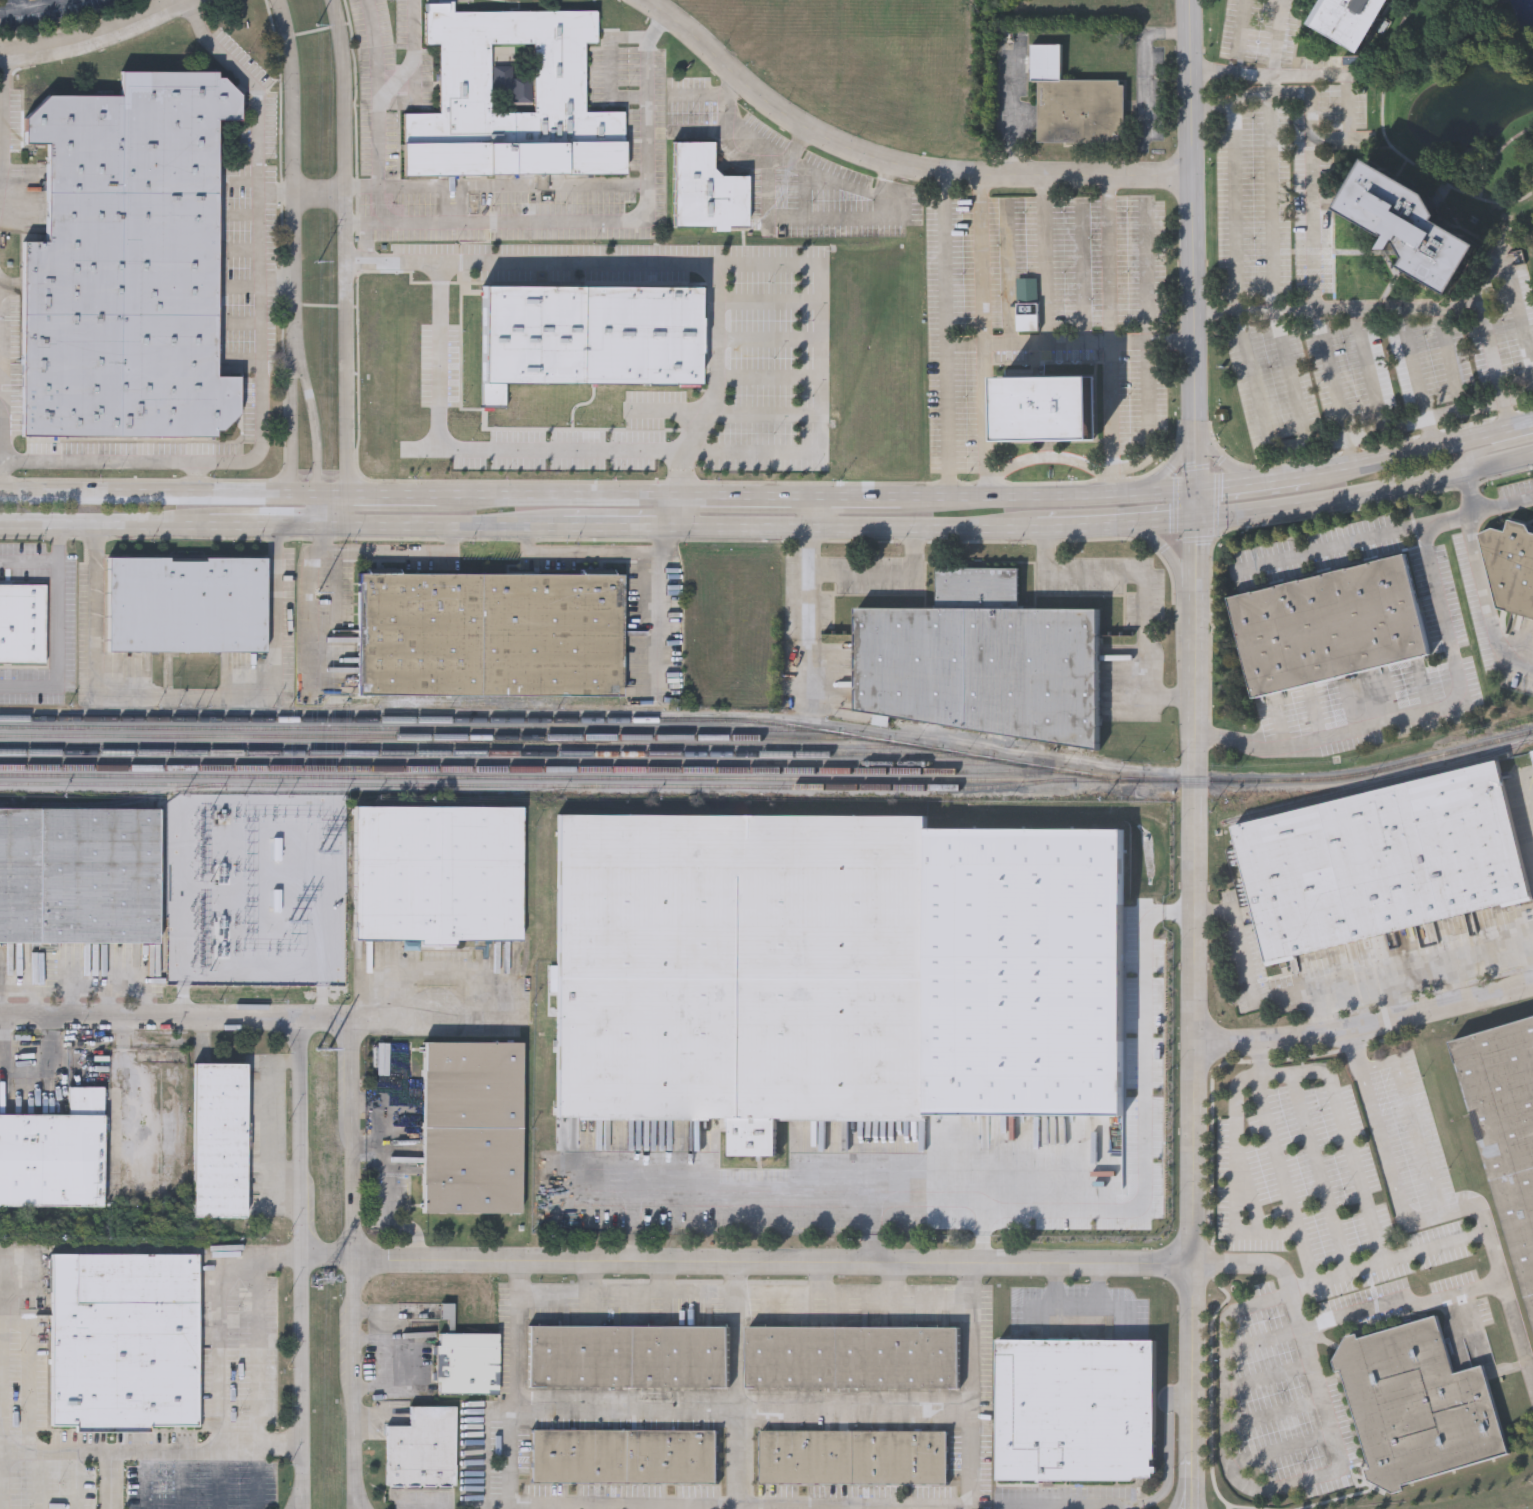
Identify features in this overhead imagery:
road: (59, 1)
road: (22, 4)
road: (34, 6)
parking lot: (47, 11)
building: (1347, 19)
power tower: (316, 26)
road: (92, 35)
road: (1233, 37)
road: (1275, 37)
road: (378, 45)
road: (1143, 63)
road: (1326, 73)
road: (1271, 93)
road: (0, 97)
building: (512, 97)
road: (701, 97)
road: (382, 105)
road: (1313, 111)
building: (1083, 112)
road: (1013, 116)
road: (707, 129)
road: (799, 143)
road: (796, 158)
road: (891, 169)
road: (511, 185)
road: (1234, 185)
building: (706, 190)
road: (276, 192)
road: (318, 192)
road: (1271, 201)
building: (512, 211)
road: (597, 218)
road: (807, 219)
building: (1407, 226)
road: (292, 244)
road: (1108, 259)
road: (979, 261)
road: (1046, 261)
building: (129, 262)
road: (345, 262)
road: (359, 264)
road: (574, 264)
power tower: (318, 265)
road: (1486, 277)
road: (1398, 308)
road: (1316, 310)
road: (440, 330)
road: (1521, 330)
road: (658, 337)
building: (527, 338)
road: (260, 341)
road: (984, 344)
road: (1447, 357)
road: (1368, 368)
road: (1288, 376)
road: (1418, 376)
road: (718, 386)
road: (1519, 392)
road: (1466, 406)
road: (312, 407)
building: (1048, 410)
road: (1266, 415)
road: (1110, 417)
road: (1149, 418)
road: (980, 421)
road: (945, 422)
road: (814, 423)
road: (1389, 426)
road: (1194, 434)
road: (1491, 447)
road: (538, 449)
road: (1420, 449)
road: (1045, 458)
road: (194, 476)
road: (1250, 483)
road: (158, 489)
traffic signals: (1192, 490)
road: (378, 492)
road: (1468, 492)
road: (554, 495)
road: (1046, 495)
road: (1364, 495)
road: (785, 497)
road: (1502, 505)
road: (317, 509)
road: (670, 511)
traffic signals: (1192, 521)
road: (1113, 523)
road: (105, 526)
road: (269, 526)
road: (445, 526)
road: (616, 526)
road: (851, 528)
road: (1355, 542)
road: (59, 543)
road: (390, 549)
road: (1166, 549)
road: (581, 553)
road: (29, 559)
road: (851, 565)
building: (1511, 568)
road: (1145, 586)
power tower: (320, 599)
road: (1485, 599)
building: (187, 603)
road: (661, 610)
building: (22, 623)
building: (1331, 627)
building: (492, 633)
road: (59, 649)
building: (985, 660)
road: (187, 691)
road: (1414, 712)
railway: (771, 722)
railway: (403, 727)
railway: (432, 736)
railway: (1528, 740)
railway: (458, 746)
road: (1194, 747)
railway: (485, 753)
railway: (511, 762)
railway: (536, 770)
railway: (564, 778)
railway: (1378, 782)
railway: (528, 787)
railway: (100, 800)
railway: (1037, 822)
building: (1384, 864)
power substation: (254, 865)
power tower: (322, 866)
building: (439, 875)
building: (79, 876)
road: (1531, 945)
building: (836, 972)
road: (88, 982)
road: (1456, 985)
road: (1328, 995)
road: (71, 999)
road: (106, 999)
road: (1395, 1001)
road: (1, 1006)
road: (175, 1016)
road: (431, 1016)
road: (1324, 1018)
road: (123, 1030)
road: (1362, 1031)
road: (4, 1042)
road: (50, 1042)
road: (124, 1050)
road: (125, 1061)
road: (62, 1068)
road: (1247, 1095)
road: (1139, 1121)
building: (472, 1127)
building: (1507, 1127)
building: (219, 1140)
road: (1397, 1149)
building: (51, 1159)
road: (1348, 1163)
road: (1298, 1172)
road: (730, 1195)
railway: (54, 1209)
road: (925, 1219)
railway: (75, 1222)
road: (1397, 1226)
road: (744, 1262)
road: (299, 1263)
road: (356, 1263)
road: (589, 1278)
road: (665, 1278)
power tower: (326, 1279)
road: (891, 1279)
road: (1276, 1283)
road: (625, 1295)
road: (790, 1295)
road: (890, 1295)
road: (382, 1314)
building: (448, 1318)
road: (1397, 1327)
road: (256, 1333)
building: (125, 1342)
road: (1349, 1342)
road: (229, 1347)
road: (9, 1353)
building: (627, 1358)
building: (851, 1359)
road: (387, 1362)
building: (468, 1365)
road: (1304, 1377)
road: (735, 1385)
road: (969, 1386)
road: (1254, 1392)
road: (516, 1404)
building: (1418, 1407)
building: (1077, 1411)
road: (626, 1414)
road: (853, 1415)
road: (278, 1444)
road: (30, 1449)
building: (423, 1450)
road: (229, 1454)
building: (623, 1458)
building: (852, 1459)
road: (110, 1460)
road: (148, 1481)
road: (1342, 1490)
road: (1157, 1494)
road: (297, 1501)
road: (1181, 1502)
road: (1186, 1502)
road: (1189, 1502)
road: (722, 1504)
road: (356, 1505)

